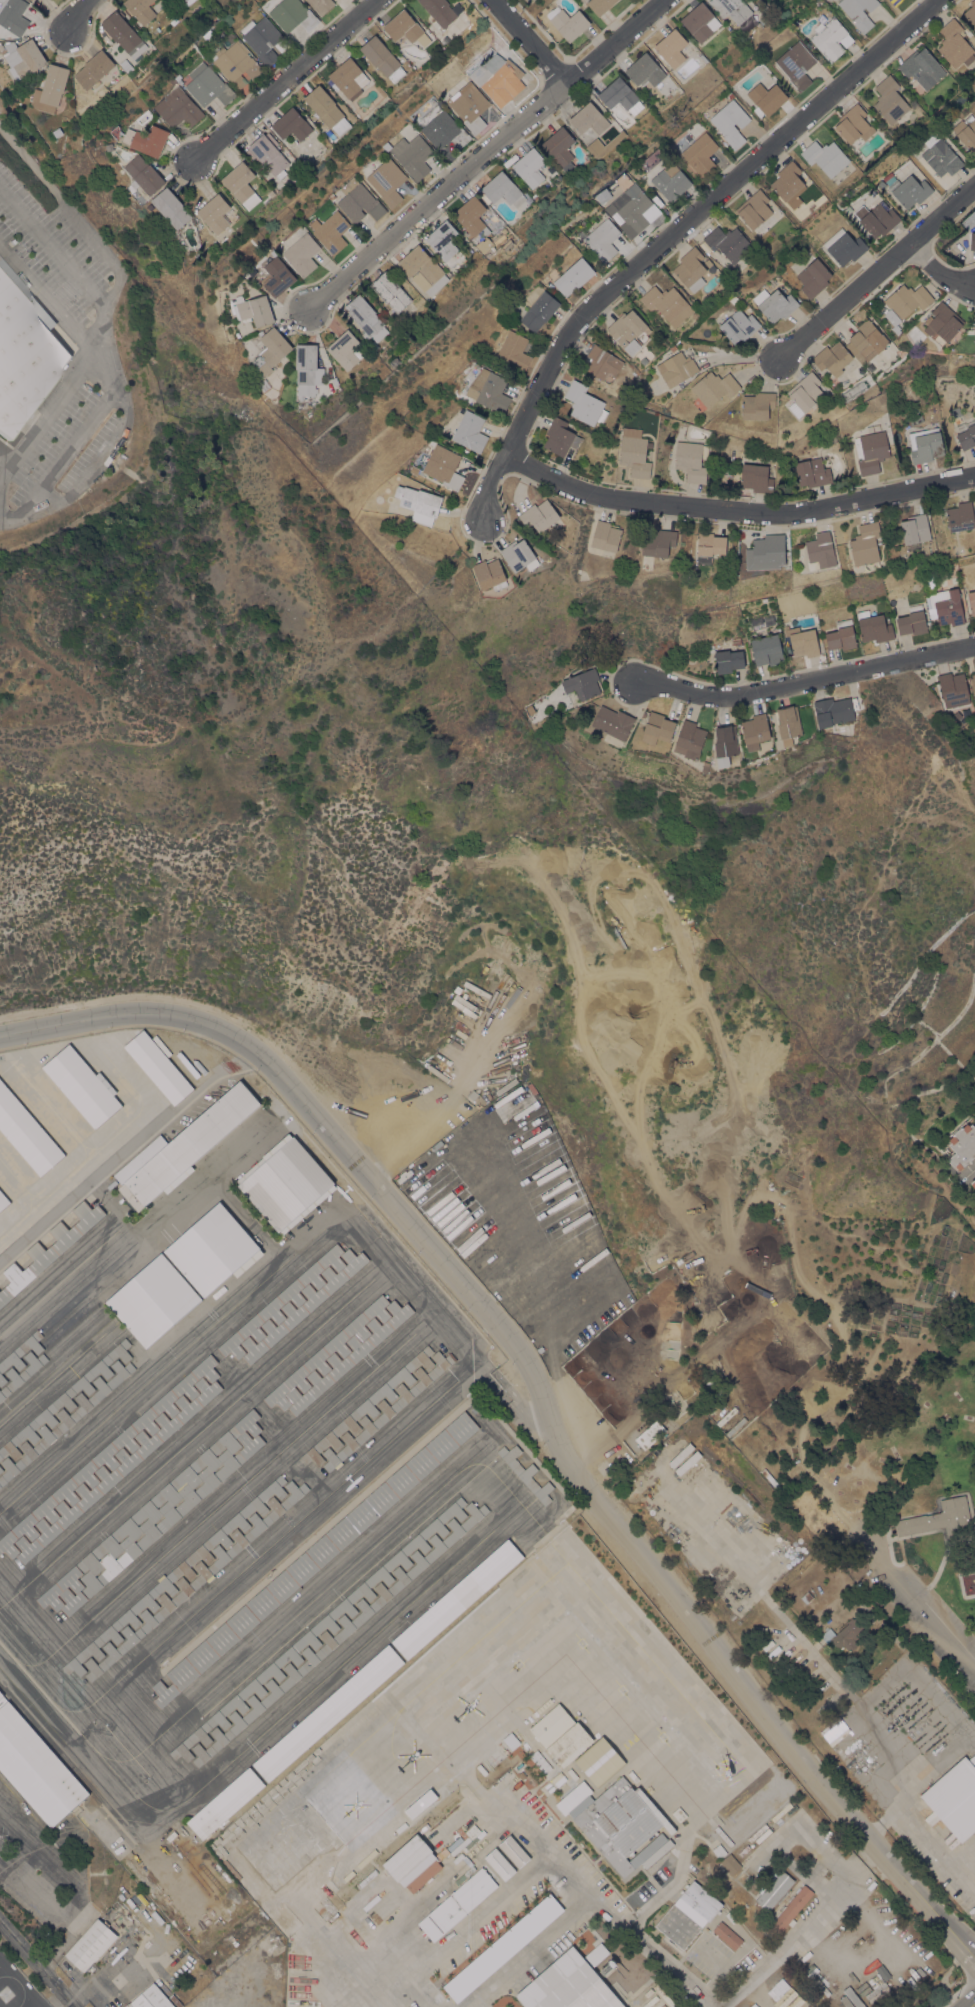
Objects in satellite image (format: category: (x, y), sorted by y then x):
building: (29, 0)
building: (528, 0)
building: (186, 1)
building: (895, 2)
building: (321, 5)
building: (600, 5)
building: (140, 9)
building: (732, 9)
building: (859, 12)
building: (971, 12)
building: (439, 13)
building: (13, 15)
road: (71, 15)
building: (293, 15)
building: (700, 21)
building: (568, 22)
building: (404, 27)
building: (124, 34)
building: (831, 38)
building: (263, 39)
road: (529, 43)
building: (955, 44)
building: (671, 47)
building: (22, 57)
building: (382, 58)
building: (236, 63)
building: (796, 65)
building: (922, 67)
building: (93, 69)
building: (645, 70)
building: (348, 78)
building: (498, 83)
building: (209, 85)
road: (278, 85)
building: (51, 88)
building: (19, 91)
building: (11, 94)
building: (620, 95)
building: (766, 99)
building: (889, 100)
building: (179, 108)
building: (471, 108)
building: (327, 110)
building: (730, 122)
building: (292, 124)
building: (854, 124)
building: (442, 128)
building: (593, 128)
building: (56, 132)
building: (966, 132)
building: (151, 140)
building: (111, 146)
building: (560, 148)
building: (914, 152)
building: (268, 154)
building: (700, 154)
road: (486, 155)
building: (413, 156)
building: (825, 157)
building: (942, 158)
building: (530, 167)
building: (145, 174)
building: (387, 181)
building: (671, 181)
building: (241, 184)
building: (789, 184)
building: (908, 188)
building: (501, 190)
building: (270, 193)
building: (332, 196)
building: (360, 202)
building: (633, 205)
building: (171, 207)
building: (757, 212)
building: (214, 213)
building: (230, 214)
building: (472, 217)
building: (876, 219)
building: (331, 232)
road: (669, 234)
building: (443, 240)
building: (603, 240)
building: (972, 241)
building: (728, 243)
building: (485, 246)
building: (844, 246)
road: (54, 249)
building: (302, 254)
building: (707, 263)
building: (691, 269)
building: (423, 270)
road: (938, 272)
building: (278, 276)
building: (574, 276)
road: (870, 276)
building: (814, 278)
building: (390, 291)
building: (907, 300)
building: (665, 301)
building: (775, 304)
building: (253, 310)
building: (539, 311)
building: (364, 315)
building: (943, 323)
building: (739, 326)
building: (974, 328)
building: (629, 331)
building: (868, 339)
road: (98, 340)
building: (271, 350)
building: (345, 350)
building: (644, 350)
building: (24, 351)
building: (514, 352)
building: (832, 357)
building: (602, 362)
building: (676, 368)
building: (307, 370)
road: (104, 373)
building: (334, 380)
building: (714, 387)
building: (489, 390)
building: (805, 394)
building: (585, 404)
building: (758, 405)
building: (955, 414)
road: (47, 415)
building: (916, 420)
building: (470, 432)
building: (966, 434)
building: (561, 437)
building: (925, 445)
building: (871, 451)
building: (634, 453)
road: (63, 459)
building: (691, 460)
road: (94, 464)
building: (444, 466)
building: (414, 470)
building: (812, 472)
building: (756, 478)
building: (419, 503)
road: (3, 506)
road: (736, 510)
building: (539, 515)
building: (961, 516)
road: (3, 520)
building: (915, 531)
building: (606, 536)
building: (658, 542)
building: (865, 544)
building: (710, 547)
building: (820, 551)
building: (766, 553)
building: (519, 556)
building: (490, 574)
building: (918, 584)
building: (971, 601)
building: (947, 606)
building: (912, 620)
building: (874, 626)
building: (841, 635)
building: (802, 641)
building: (767, 650)
building: (728, 660)
building: (973, 679)
road: (799, 682)
building: (582, 684)
building: (953, 689)
building: (542, 704)
building: (837, 709)
building: (788, 721)
building: (613, 722)
building: (657, 728)
building: (756, 728)
building: (690, 739)
building: (725, 744)
building: (706, 766)
airport hangar: (158, 1066)
building: (158, 1066)
airport hangar: (82, 1086)
building: (82, 1086)
airport hangar: (26, 1132)
building: (26, 1132)
airport apron: (79, 1132)
building: (962, 1146)
airport hangar: (182, 1147)
building: (182, 1147)
road: (973, 1170)
building: (973, 1183)
building: (286, 1184)
airport hangar: (3, 1200)
building: (3, 1200)
airport hangar: (49, 1249)
building: (49, 1249)
airport hangar: (211, 1250)
building: (211, 1250)
airport hangar: (152, 1299)
building: (152, 1299)
airport hangar: (293, 1303)
building: (293, 1303)
airport hangar: (327, 1352)
building: (327, 1352)
airport hangar: (20, 1353)
building: (20, 1353)
airport hangar: (348, 1356)
building: (348, 1356)
park: (838, 1356)
airport hangar: (22, 1372)
building: (22, 1372)
road: (541, 1395)
airport hangar: (66, 1398)
building: (66, 1398)
airport hangar: (368, 1406)
building: (368, 1406)
building: (477, 1406)
airport hangar: (387, 1409)
building: (387, 1409)
building: (675, 1409)
airport hangar: (65, 1420)
building: (65, 1420)
building: (650, 1434)
airport hangar: (109, 1453)
building: (109, 1453)
airport hangar: (1, 1469)
building: (1, 1469)
airport hangar: (117, 1469)
building: (117, 1469)
airport hangar: (525, 1473)
building: (525, 1473)
airport apron: (231, 1489)
airport: (209, 1493)
airport hangar: (155, 1515)
building: (155, 1515)
building: (941, 1520)
airport hangar: (315, 1556)
building: (315, 1556)
airport hangar: (176, 1576)
building: (176, 1576)
airport hangar: (195, 1579)
building: (195, 1579)
building: (806, 1597)
airport hangar: (457, 1598)
building: (457, 1598)
road: (916, 1605)
airport hangar: (319, 1629)
building: (319, 1629)
airport hangar: (338, 1633)
building: (338, 1633)
building: (845, 1635)
helipad: (552, 1679)
airport hangar: (328, 1713)
building: (328, 1713)
building: (562, 1735)
road: (931, 1766)
airport hangar: (36, 1767)
building: (36, 1767)
building: (573, 1784)
building: (955, 1798)
airport hangar: (225, 1803)
building: (225, 1803)
building: (420, 1803)
road: (29, 1819)
building: (620, 1824)
parking lot: (17, 1825)
road: (922, 1830)
road: (23, 1842)
building: (514, 1850)
road: (964, 1854)
building: (413, 1863)
building: (500, 1864)
road: (542, 1864)
building: (730, 1864)
building: (24, 1868)
building: (475, 1888)
building: (774, 1888)
building: (13, 1892)
building: (789, 1911)
building: (67, 1913)
building: (688, 1914)
building: (37, 1915)
building: (92, 1916)
building: (442, 1918)
road: (805, 1933)
building: (727, 1935)
building: (73, 1938)
building: (90, 1945)
road: (649, 1946)
road: (326, 1950)
road: (35, 1966)
building: (568, 1985)
building: (783, 1995)
building: (152, 1998)
building: (127, 2005)

